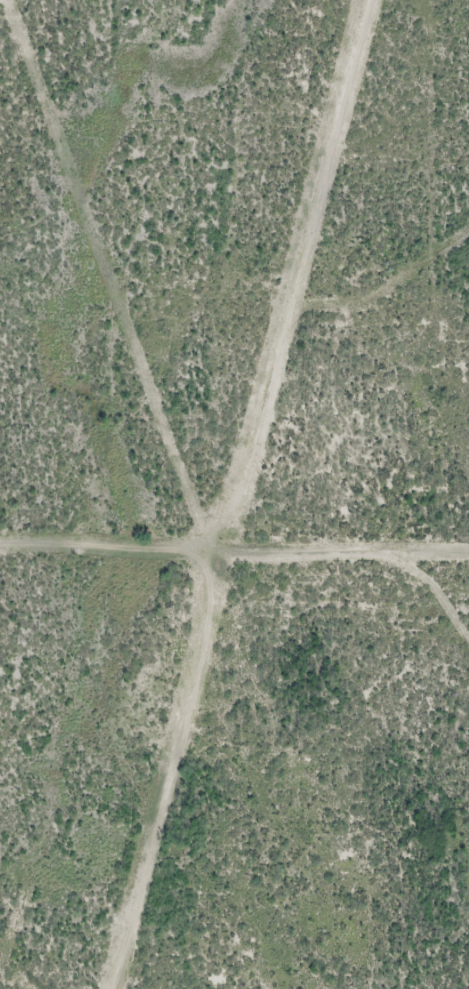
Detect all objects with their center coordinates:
road: (234, 560)

